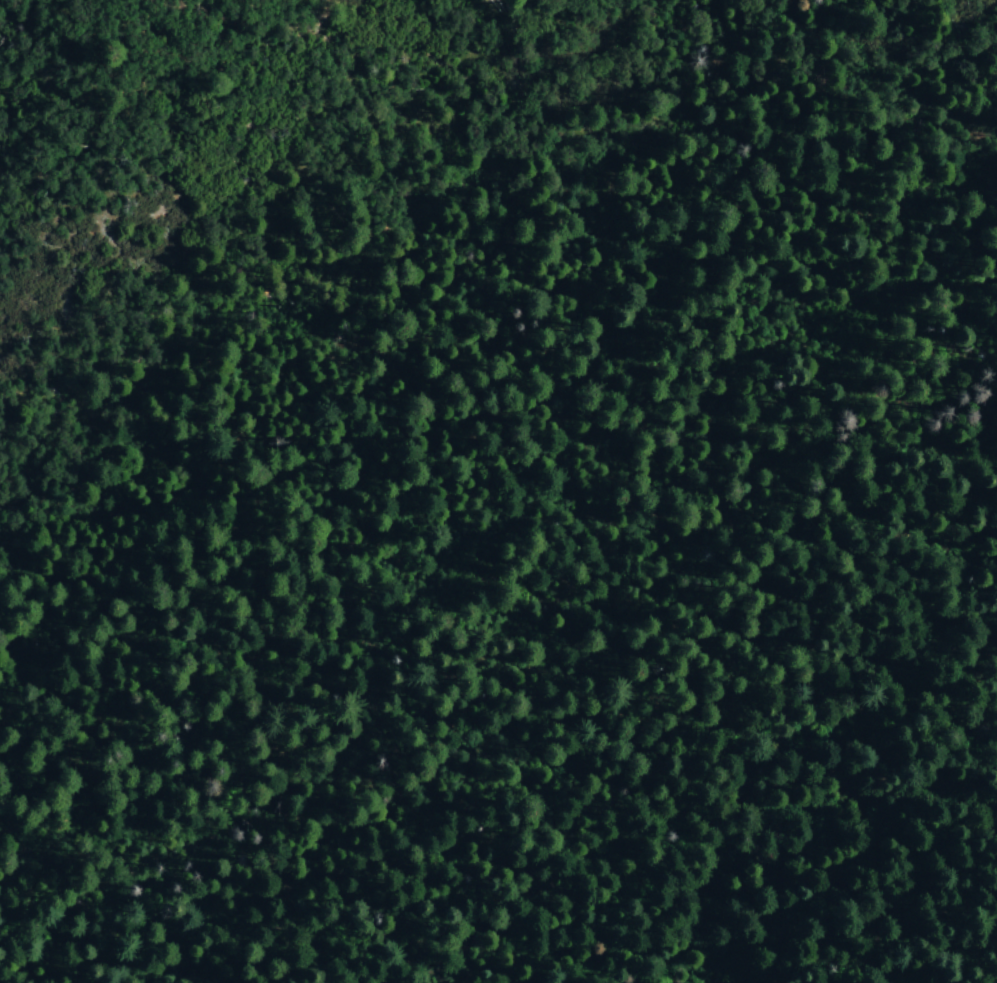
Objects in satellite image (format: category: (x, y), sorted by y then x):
road: (702, 418)

